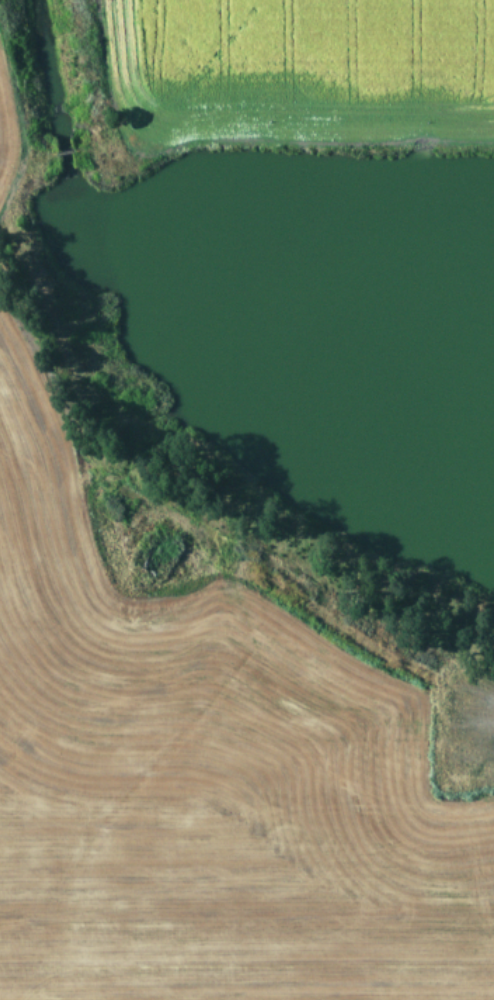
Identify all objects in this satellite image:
crop: (310, 57)
crop: (215, 804)

